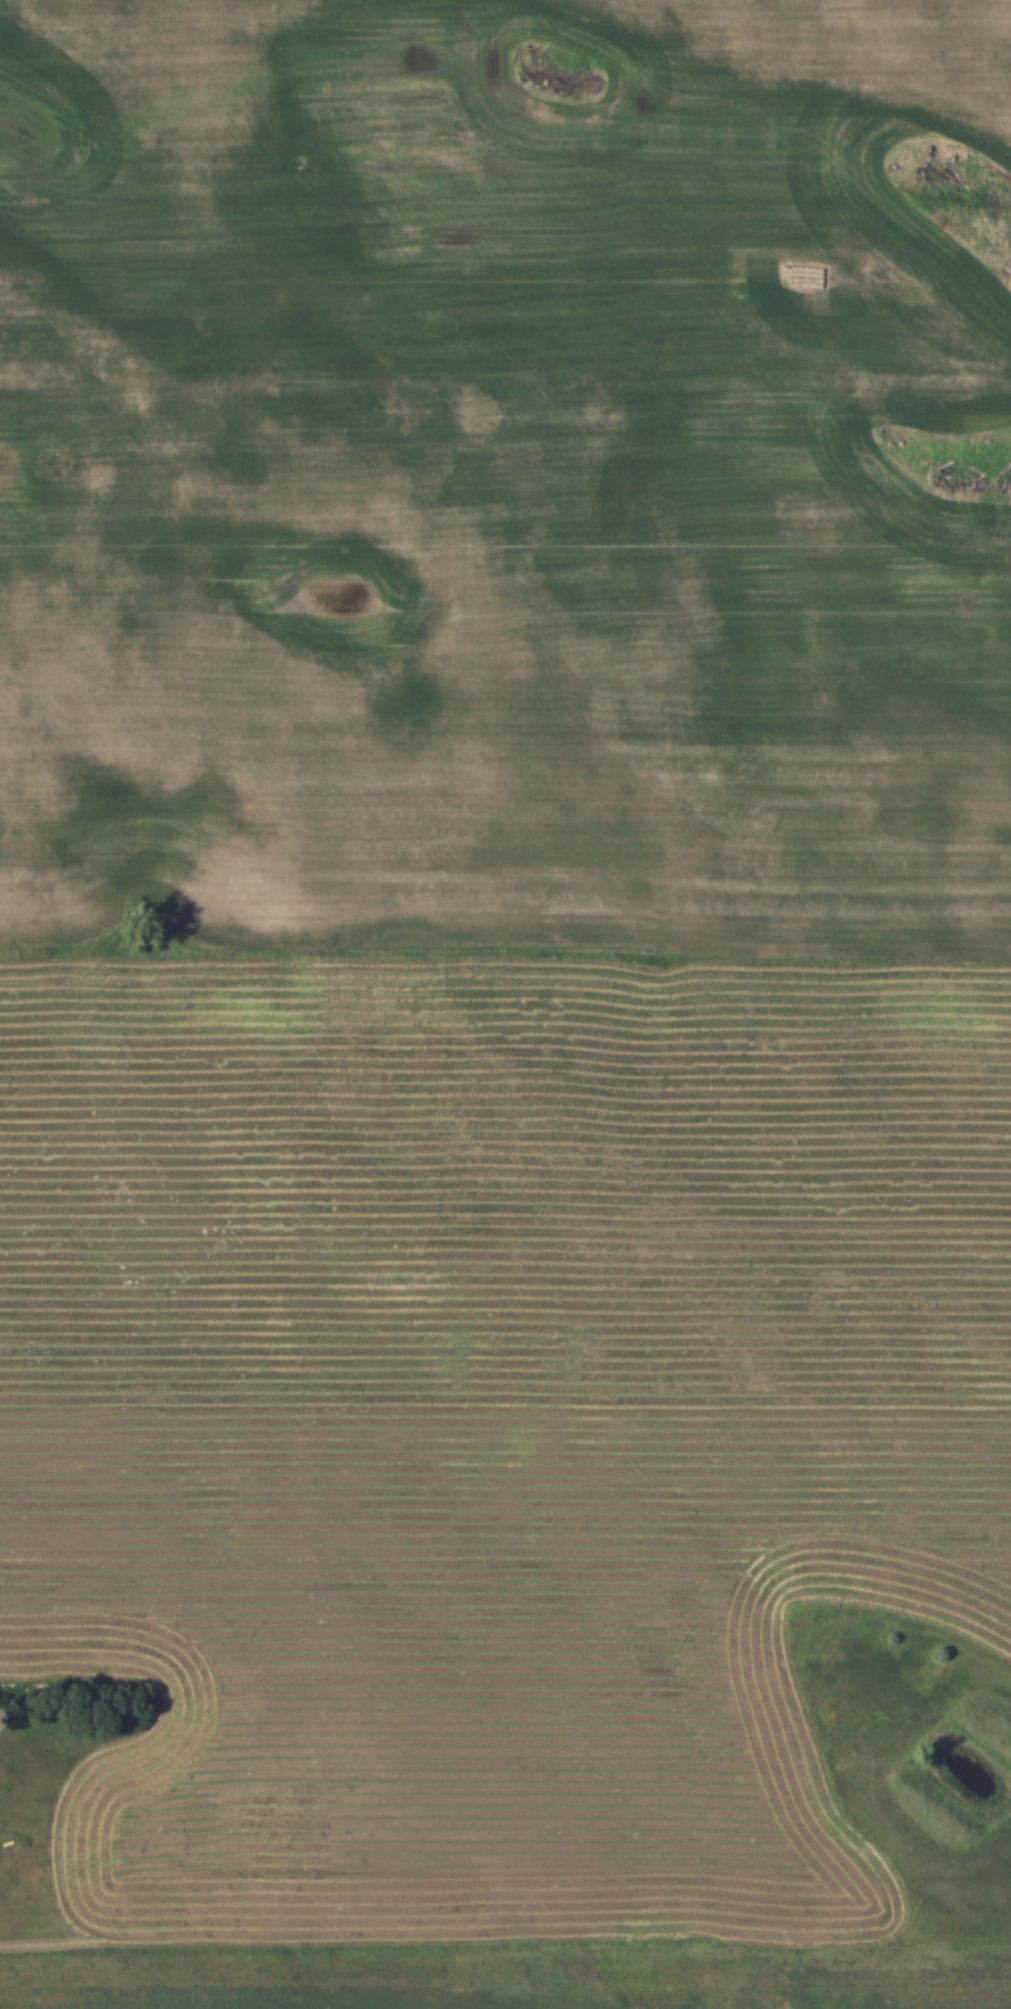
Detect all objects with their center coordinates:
road: (505, 1945)

